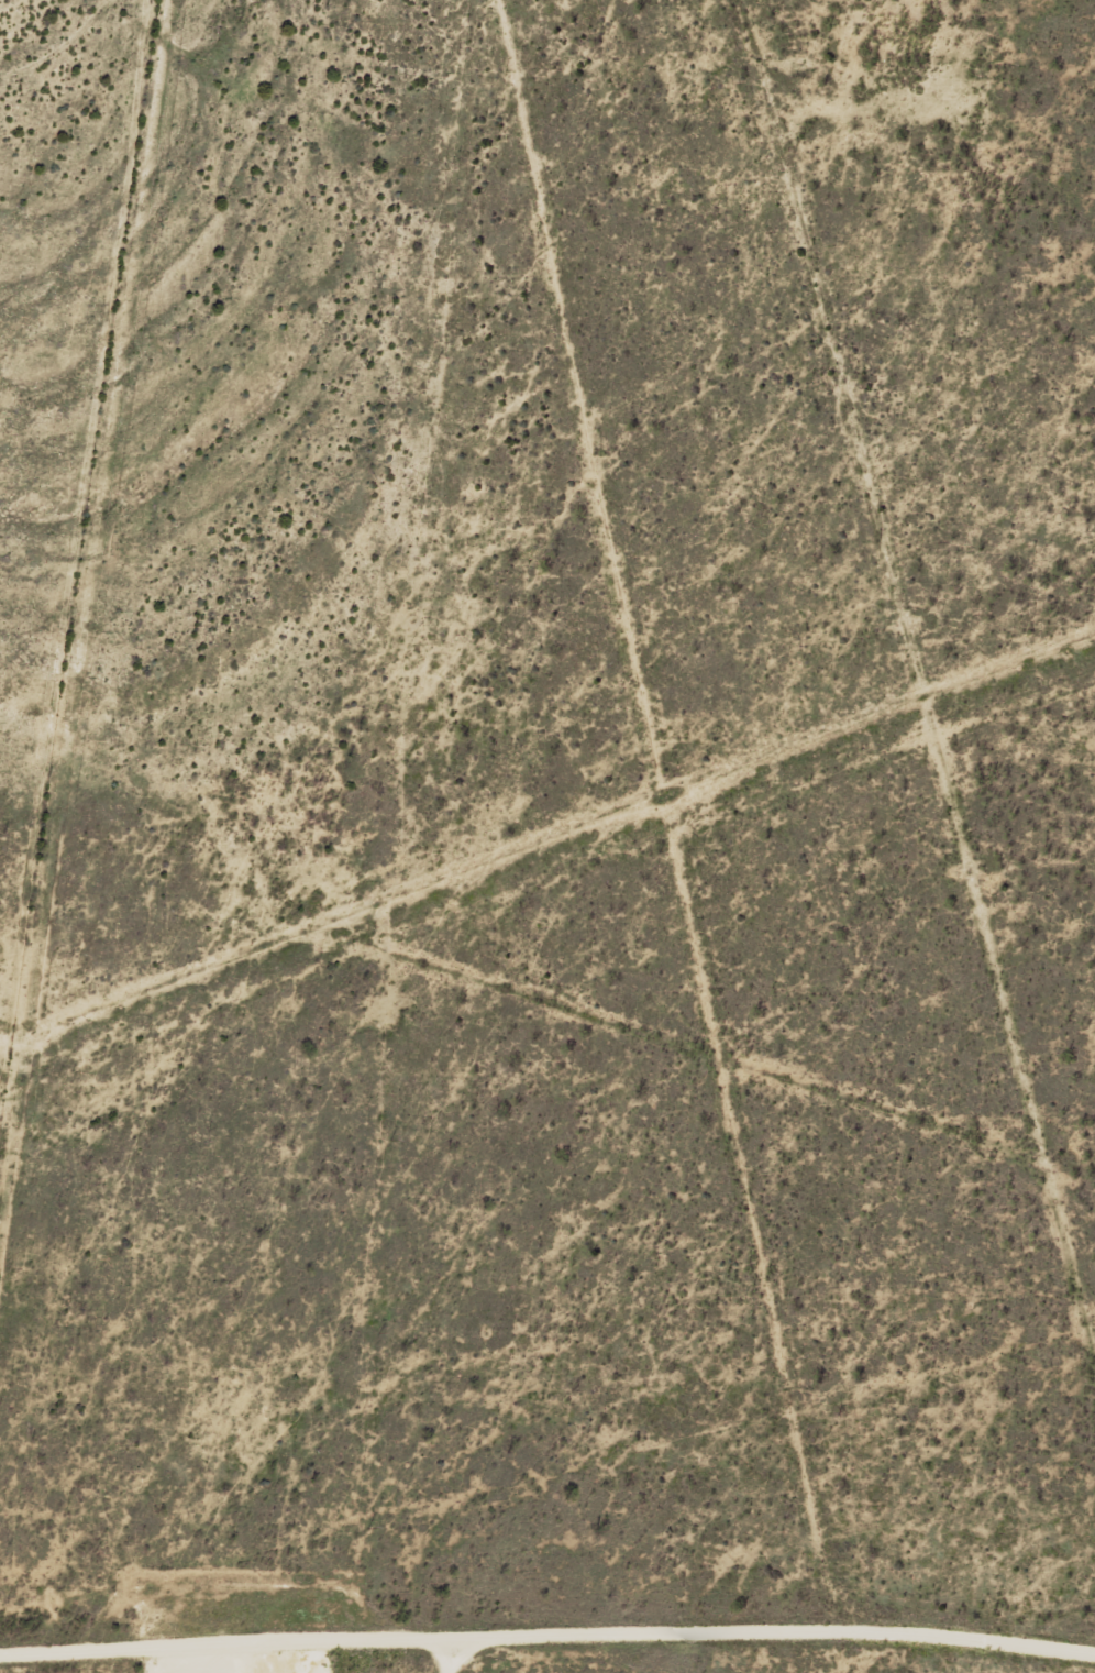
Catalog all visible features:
road: (952, 713)
road: (723, 1067)

